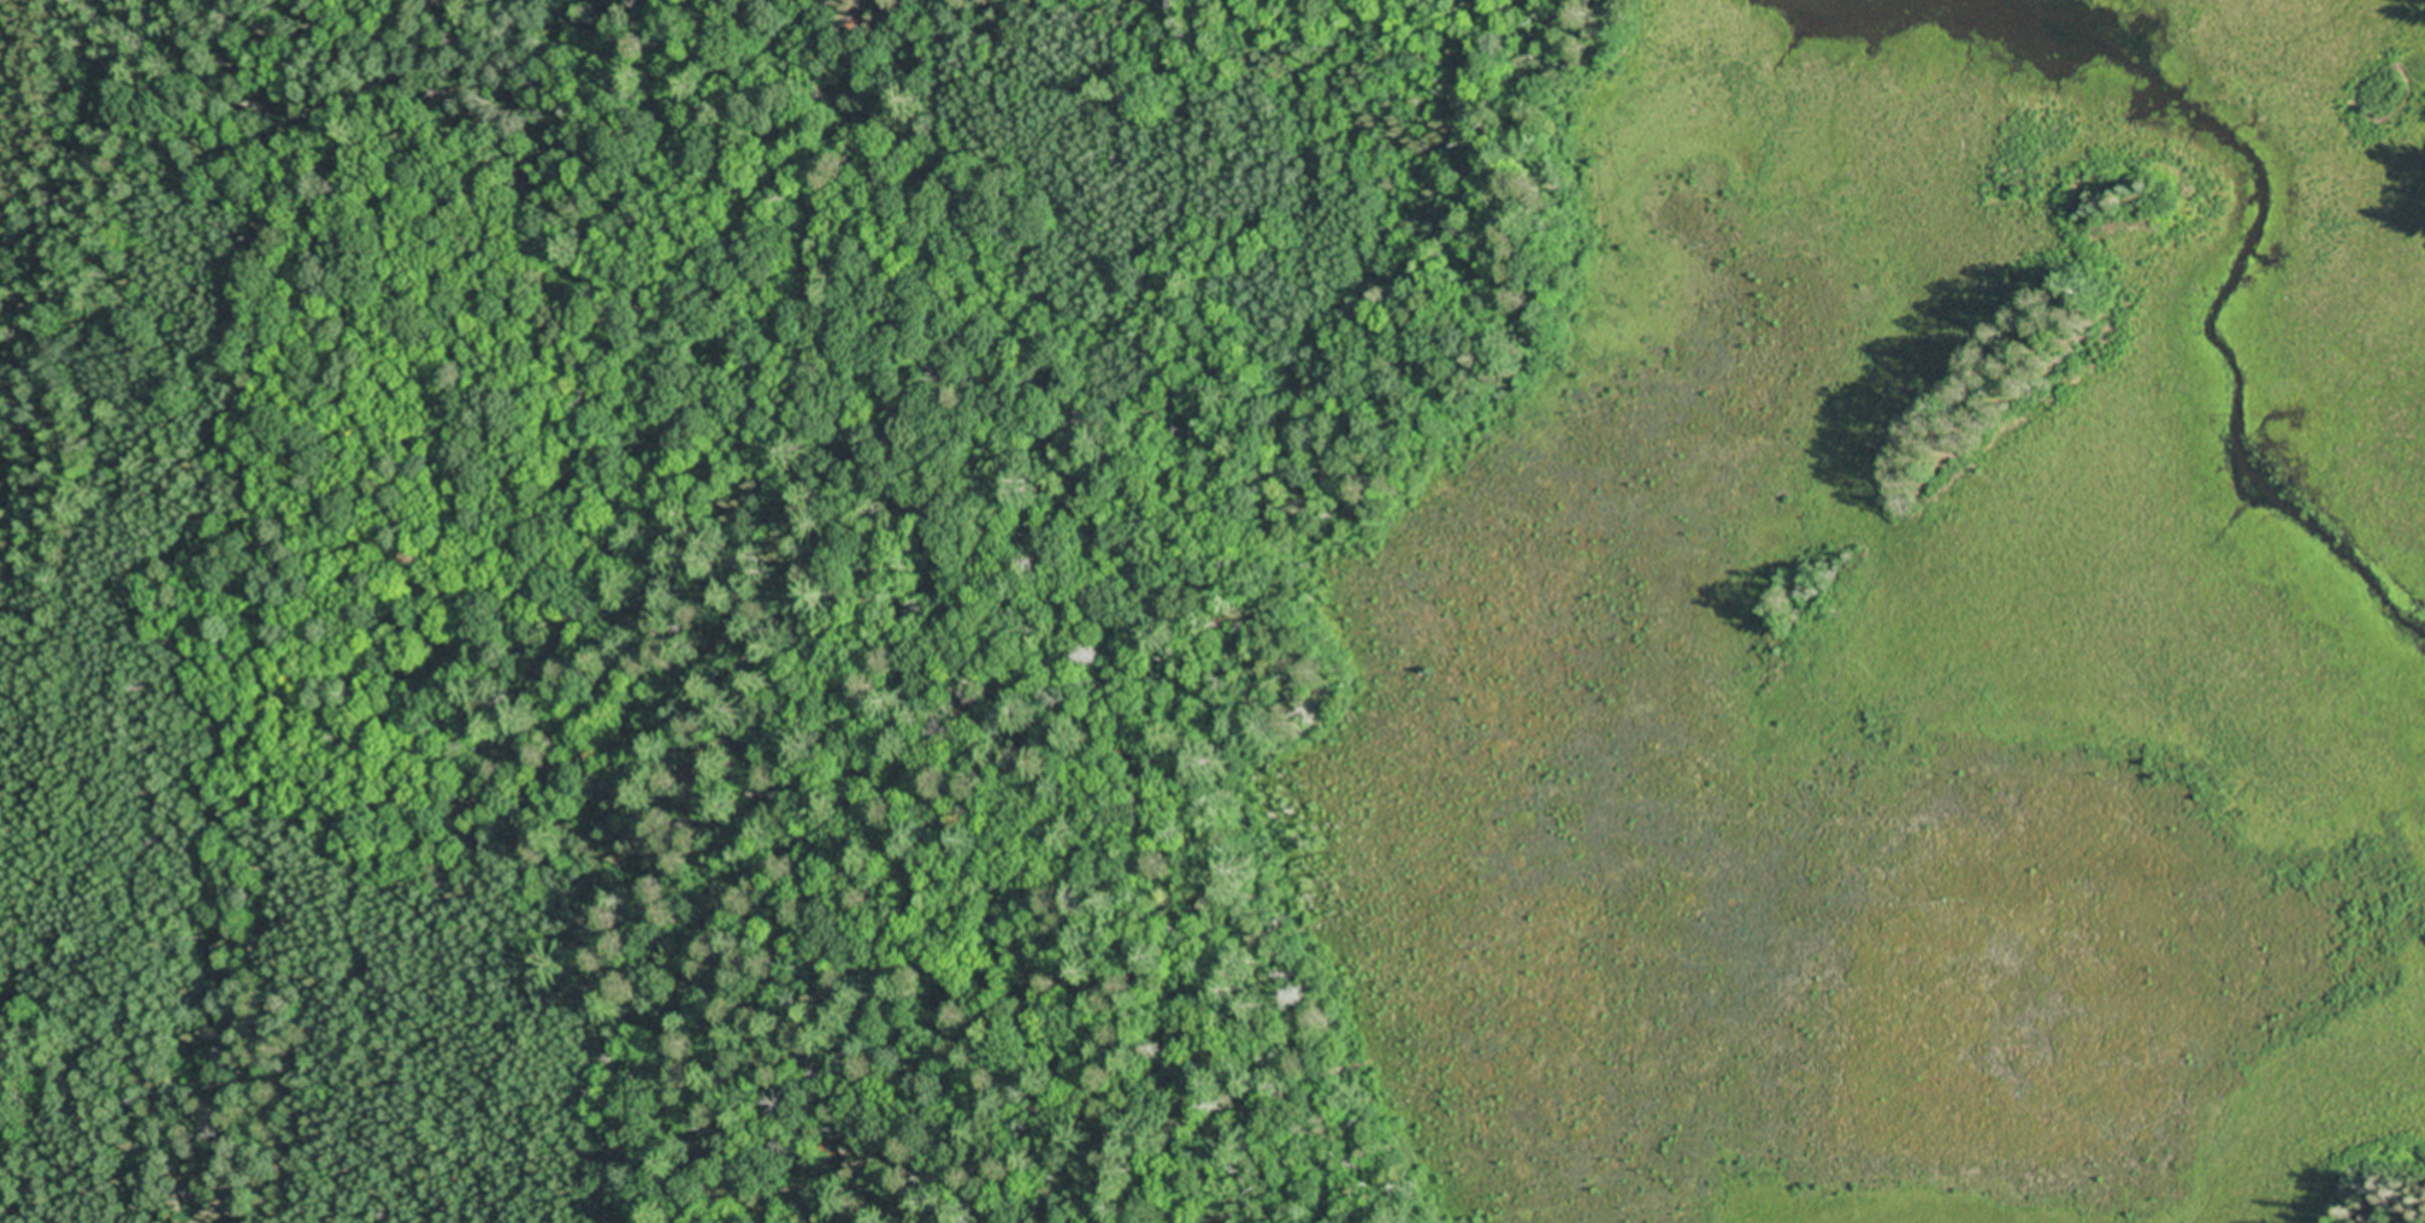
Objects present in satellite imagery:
road: (367, 89)
road: (267, 455)
road: (1096, 605)

